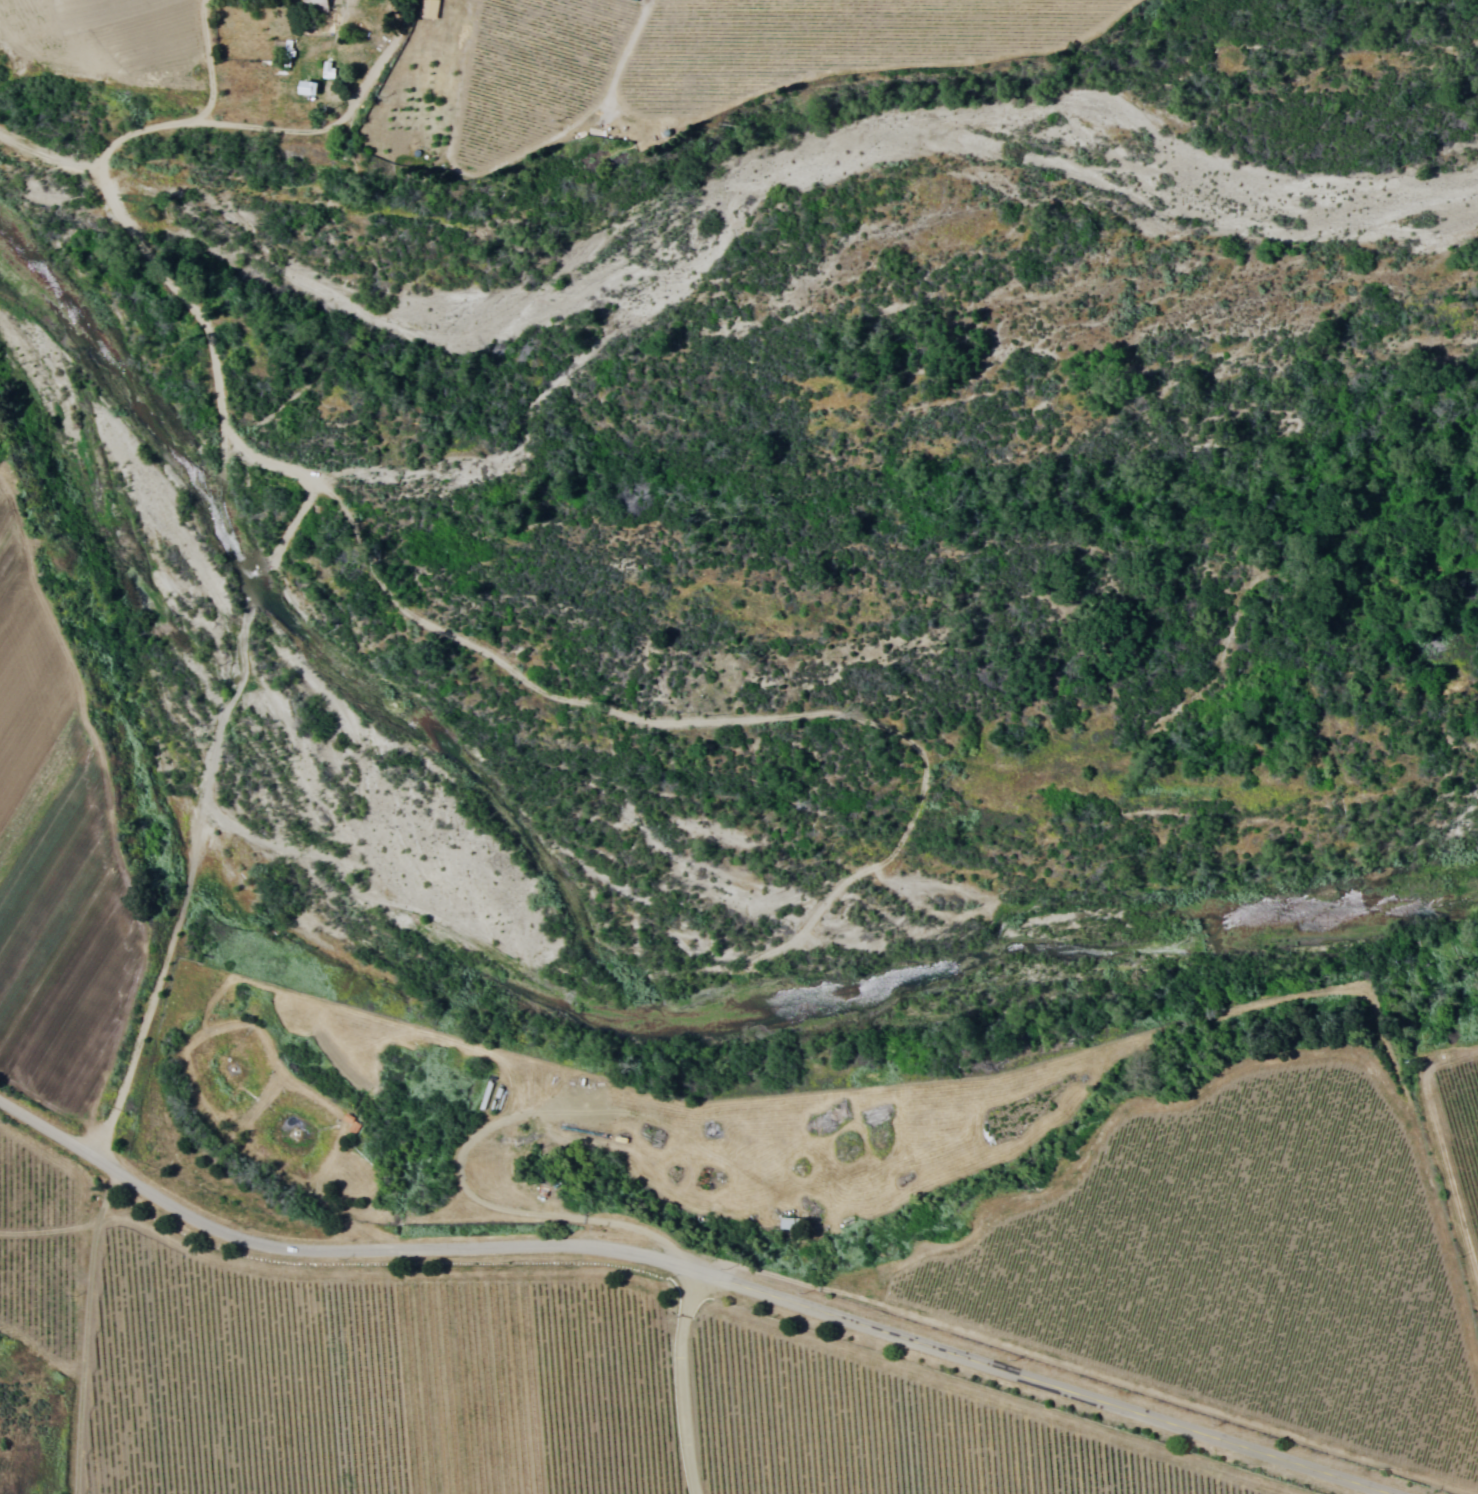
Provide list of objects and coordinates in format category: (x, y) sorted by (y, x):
building: (635, 0)
crop: (59, 1)
building: (311, 4)
building: (426, 8)
crop: (177, 44)
crop: (677, 59)
building: (303, 87)
road: (214, 394)
river: (597, 901)
crop: (71, 998)
building: (350, 1123)
road: (366, 1138)
road: (685, 1269)
road: (268, 1396)

